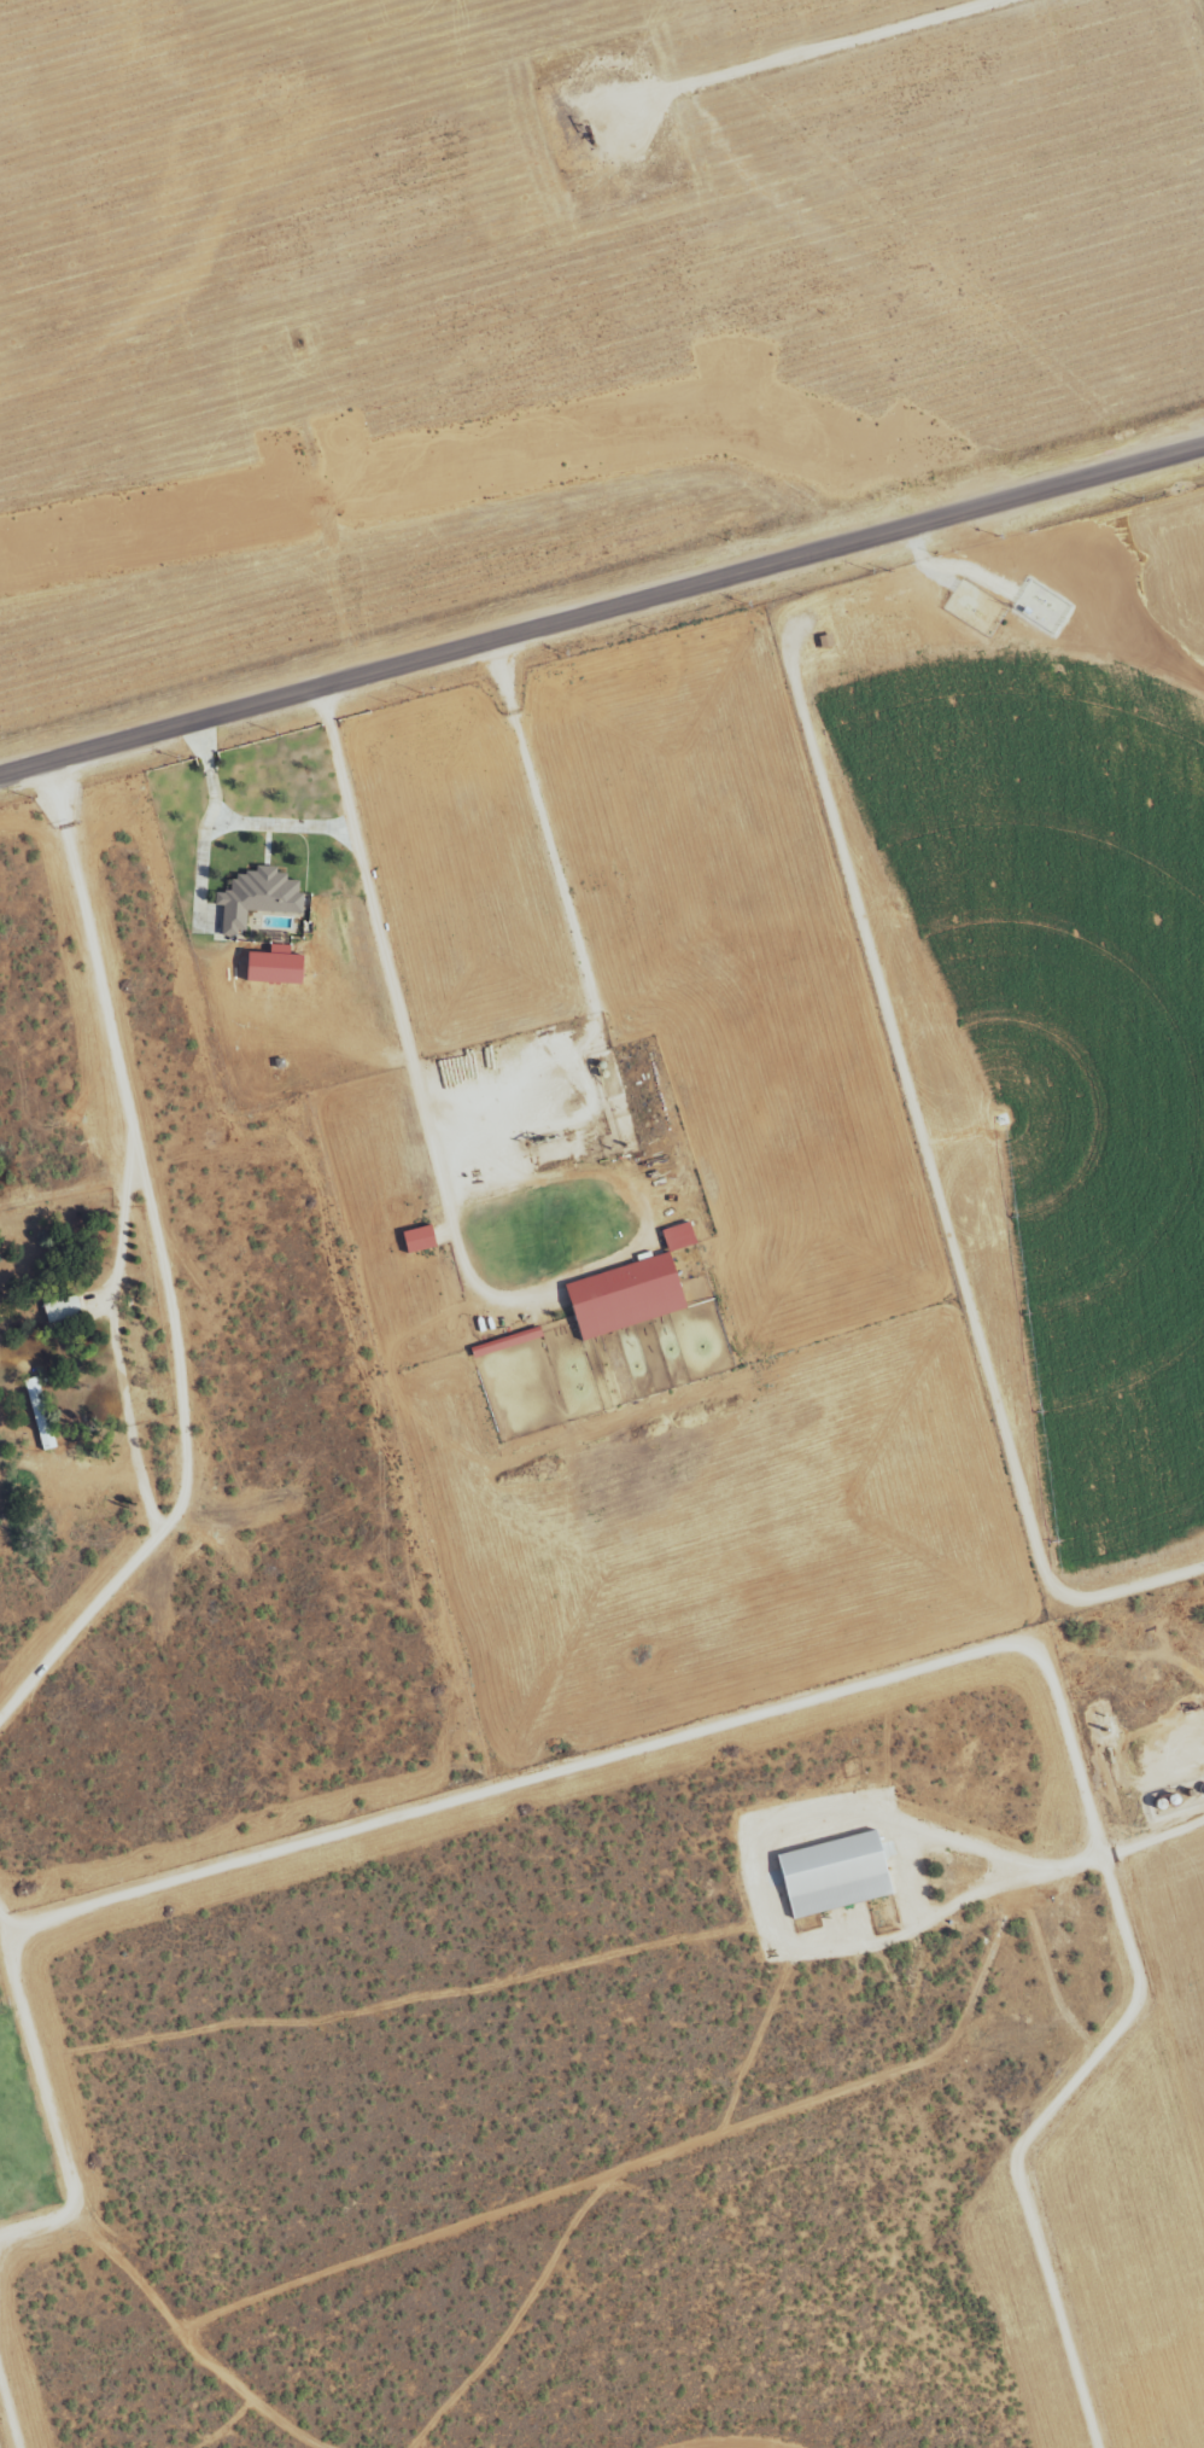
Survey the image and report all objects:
crop: (545, 317)
road: (602, 618)
road: (338, 760)
road: (240, 821)
building: (259, 898)
road: (572, 1054)
building: (680, 1238)
road: (164, 1272)
building: (626, 1298)
building: (64, 1315)
road: (115, 1342)
building: (41, 1415)
building: (836, 1876)
building: (776, 1879)
road: (48, 2102)

